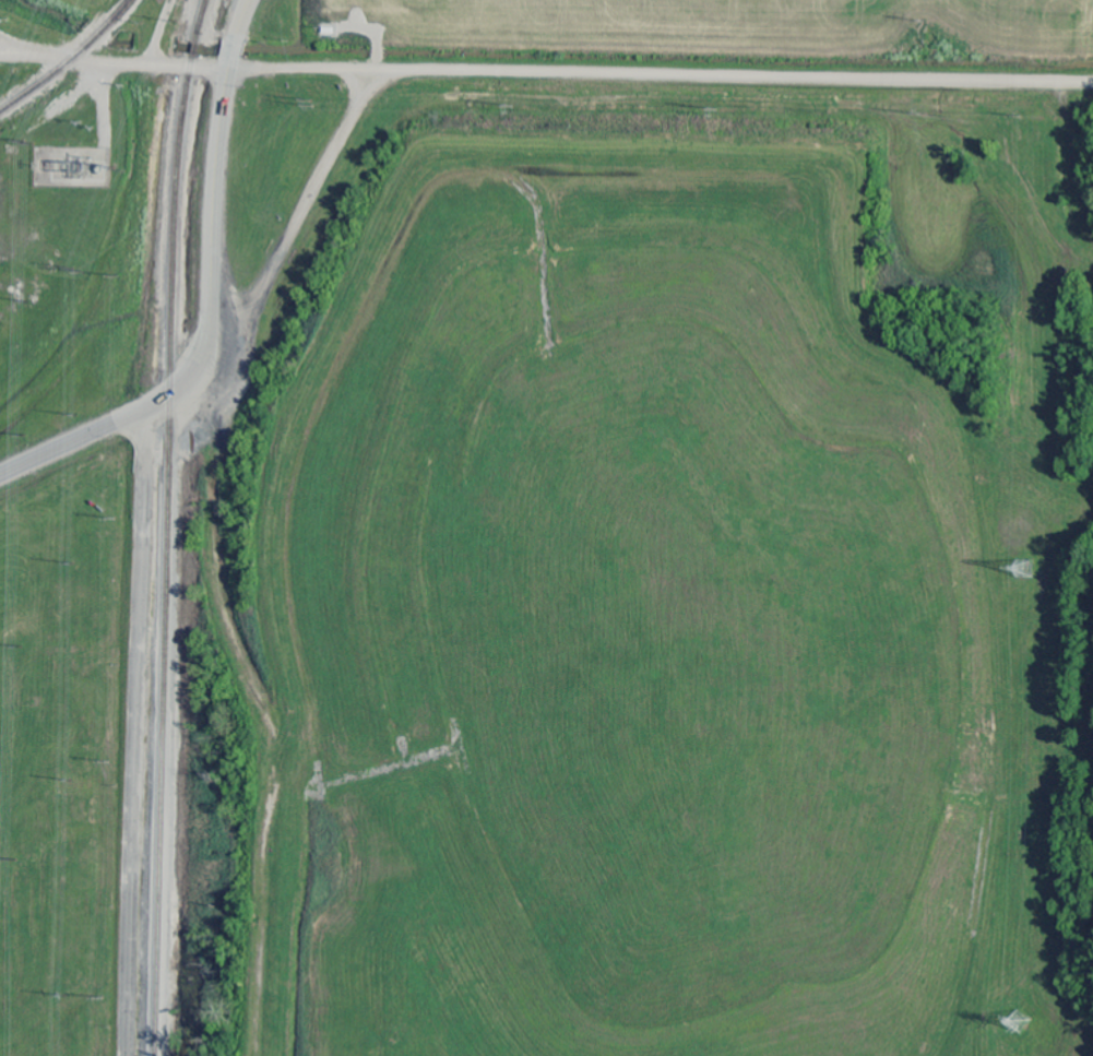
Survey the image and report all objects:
railway: (99, 32)
road: (580, 75)
railway: (34, 88)
road: (217, 164)
power substation: (71, 166)
road: (122, 423)
railway: (163, 526)

